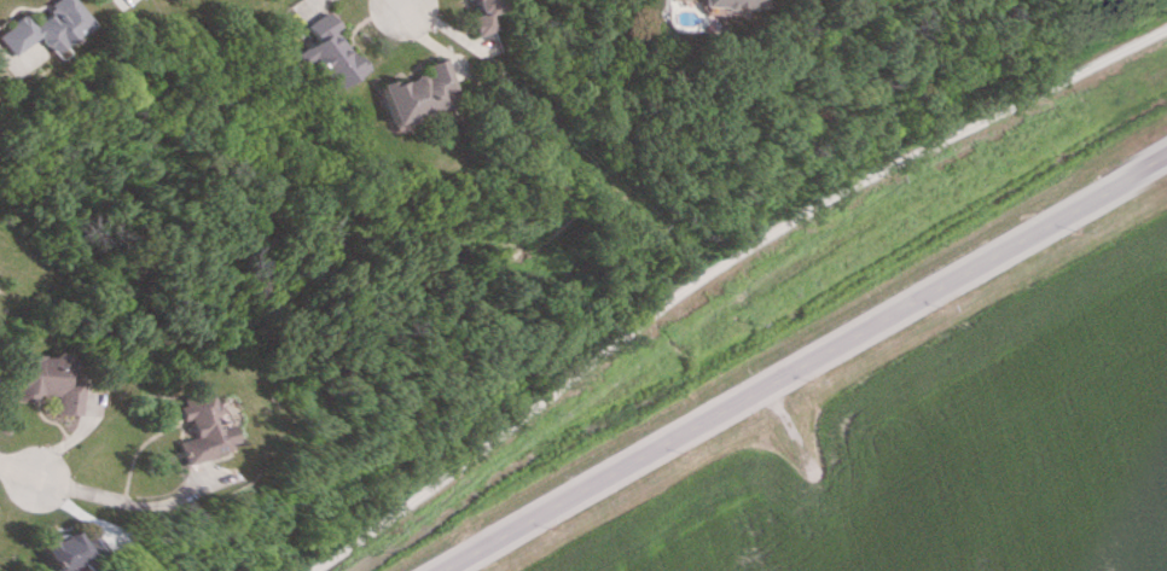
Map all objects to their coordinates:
building: (721, 2)
road: (390, 4)
building: (472, 14)
building: (45, 27)
building: (320, 52)
building: (408, 93)
road: (715, 266)
road: (802, 363)
building: (47, 380)
building: (199, 427)
road: (790, 433)
crop: (935, 438)
road: (14, 474)
road: (117, 501)
building: (52, 549)

